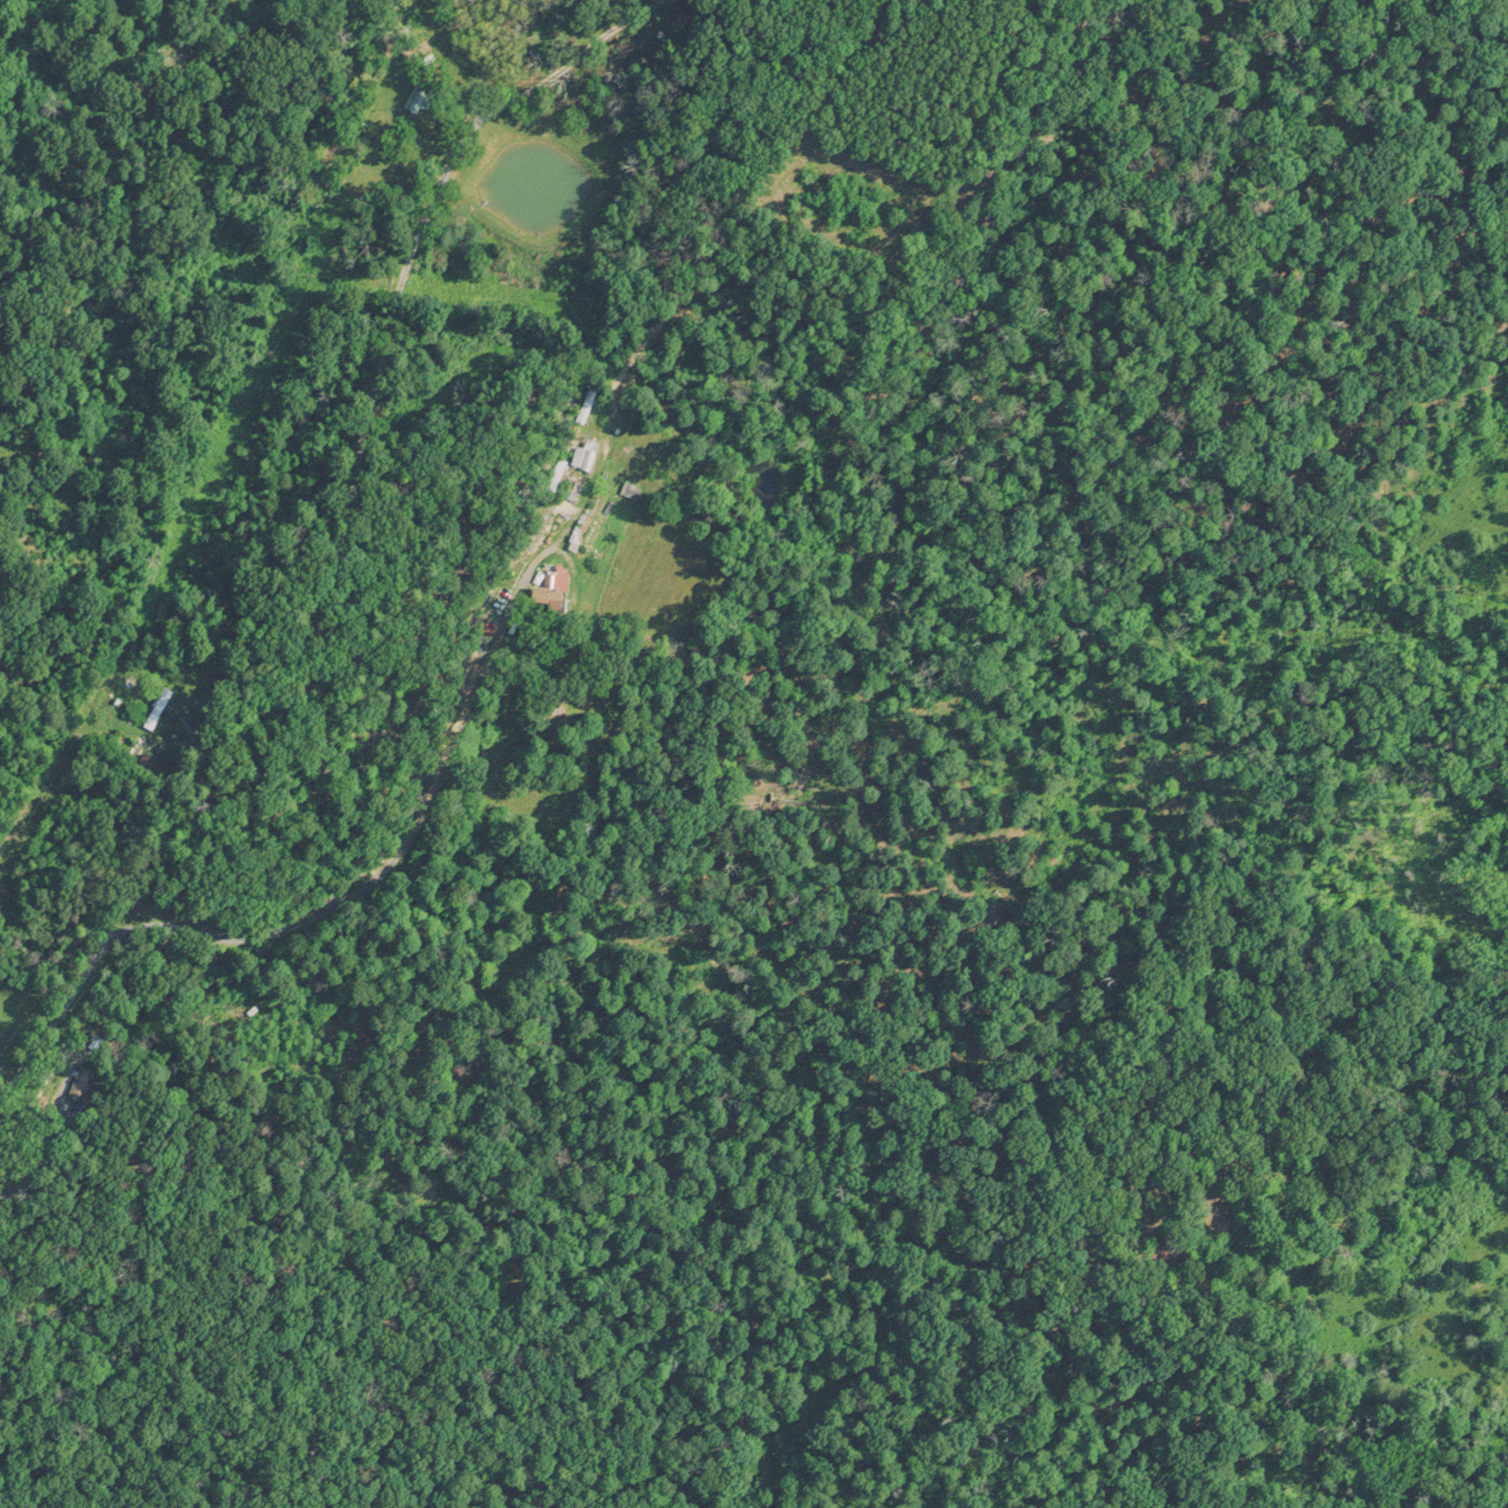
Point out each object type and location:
building: (587, 460)
building: (628, 490)
road: (569, 566)
building: (548, 589)
road: (276, 687)
building: (156, 709)
building: (79, 1083)

